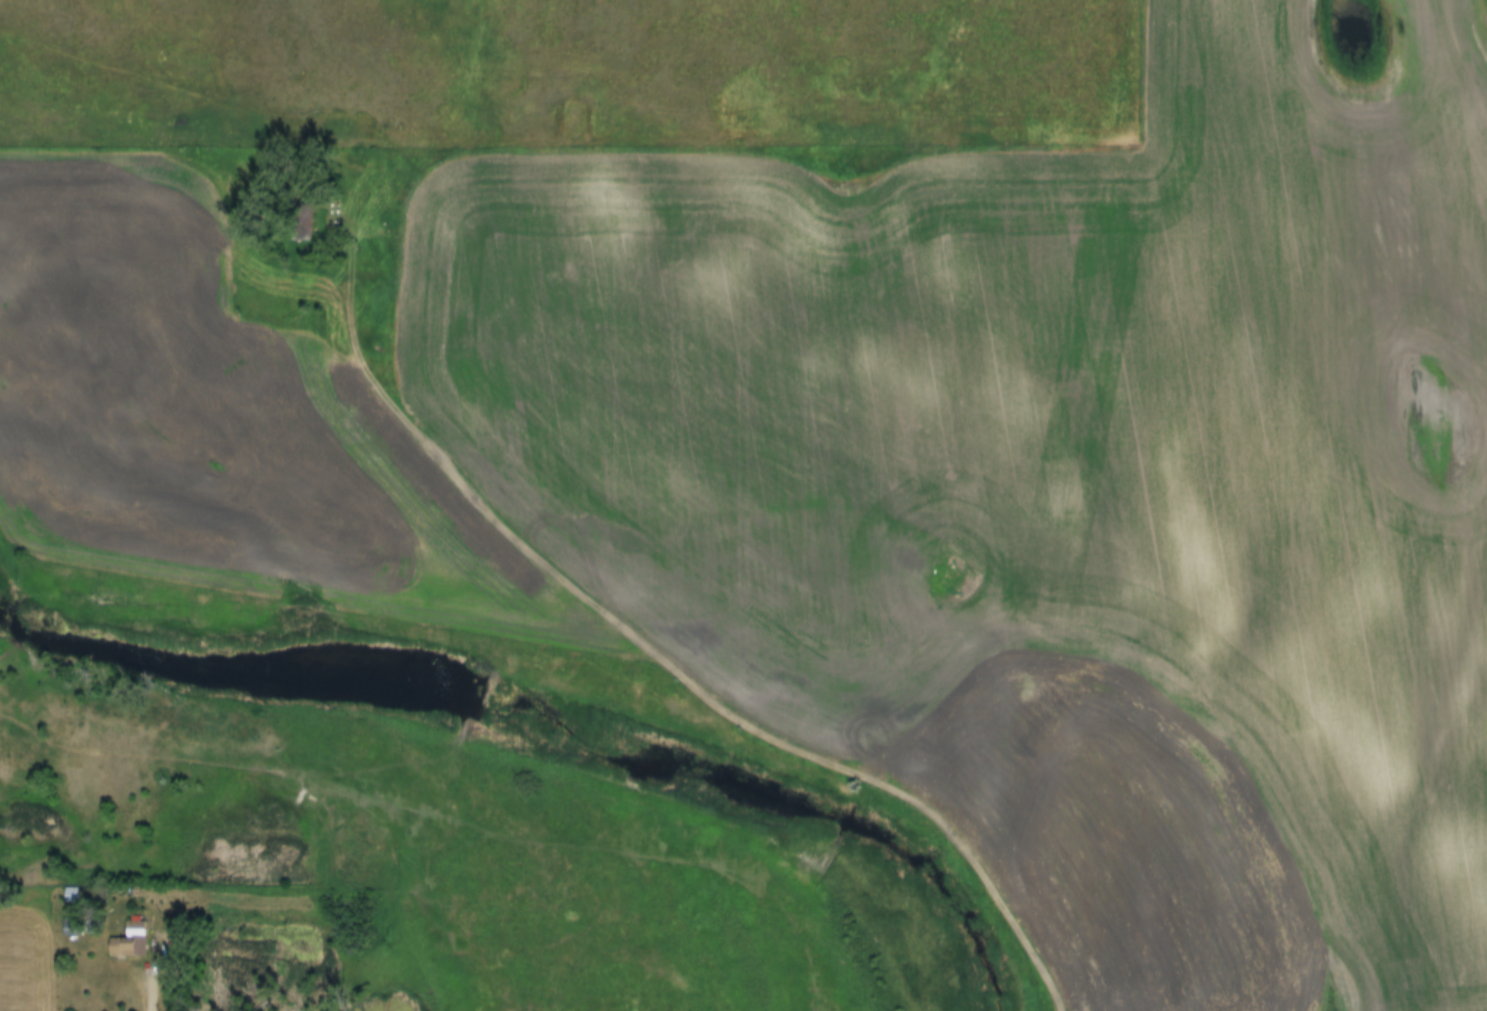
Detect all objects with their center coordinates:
road: (653, 650)
building: (134, 928)
building: (121, 946)
road: (159, 977)

